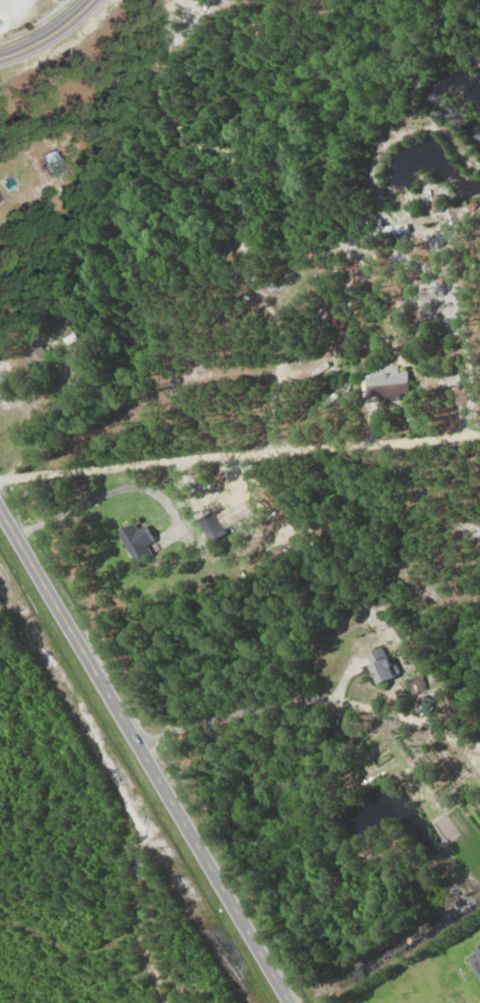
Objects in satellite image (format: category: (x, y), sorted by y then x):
road: (49, 35)
building: (0, 200)
building: (388, 383)
road: (240, 446)
building: (140, 542)
building: (386, 665)
building: (417, 686)
road: (309, 695)
road: (143, 756)

